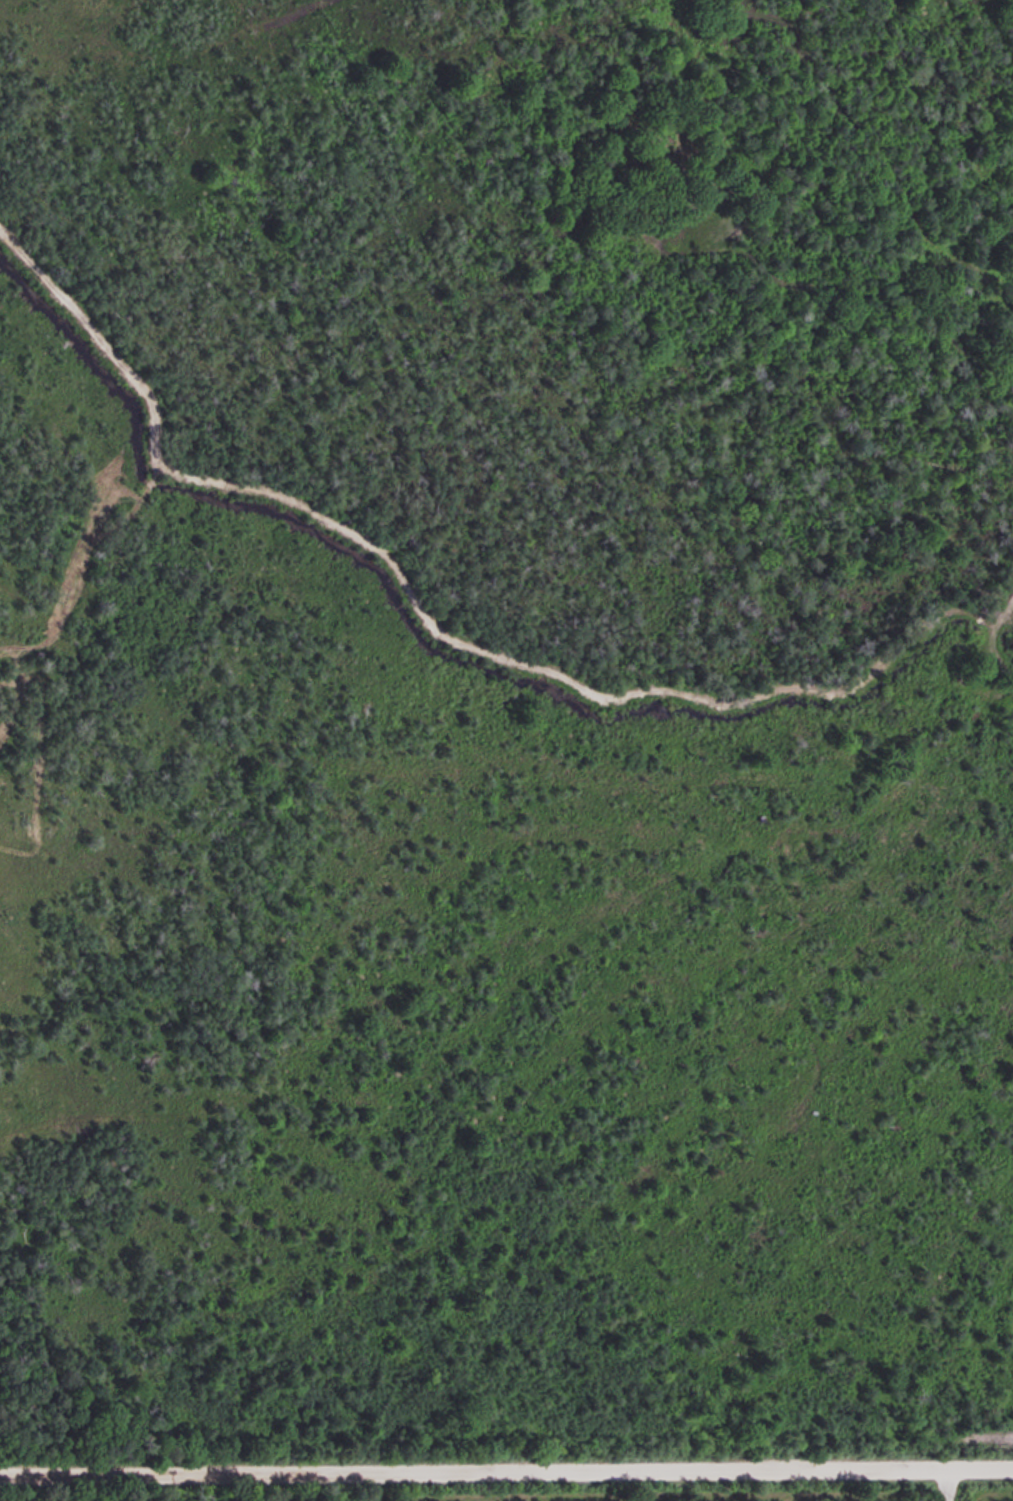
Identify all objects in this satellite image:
road: (446, 623)
road: (506, 1470)
road: (945, 1483)

